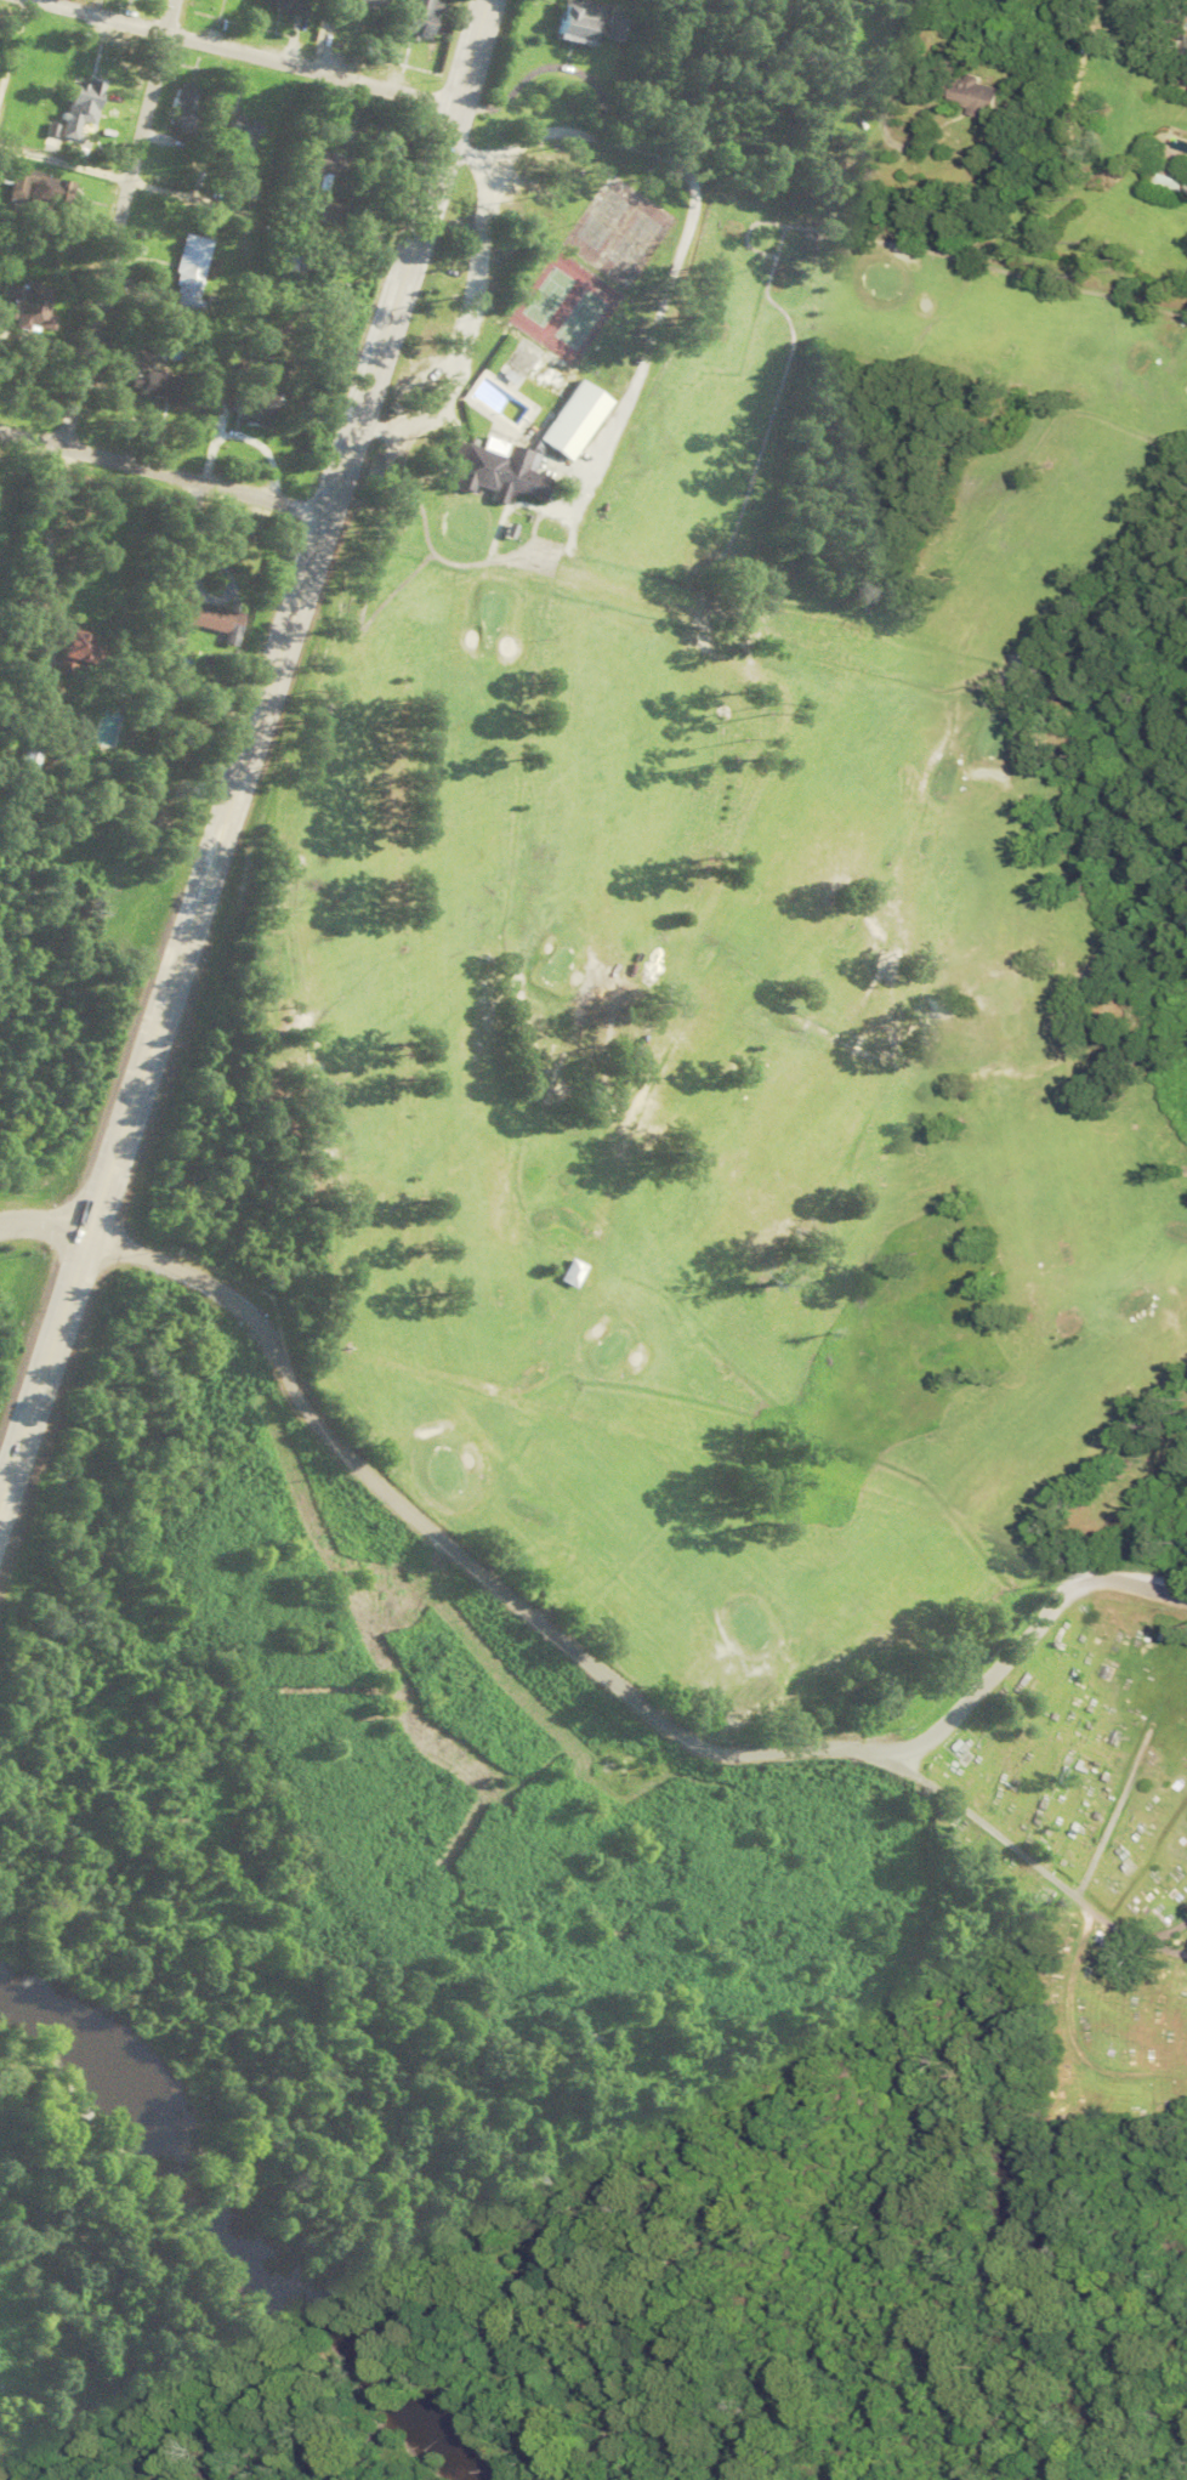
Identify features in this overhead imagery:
road: (12, 47)
road: (248, 50)
road: (63, 168)
road: (117, 221)
road: (161, 467)
road: (289, 614)
park: (736, 913)
road: (44, 1214)
road: (42, 1358)
road: (597, 1662)
road: (1017, 1843)
park: (1075, 1857)
road: (1158, 1935)

